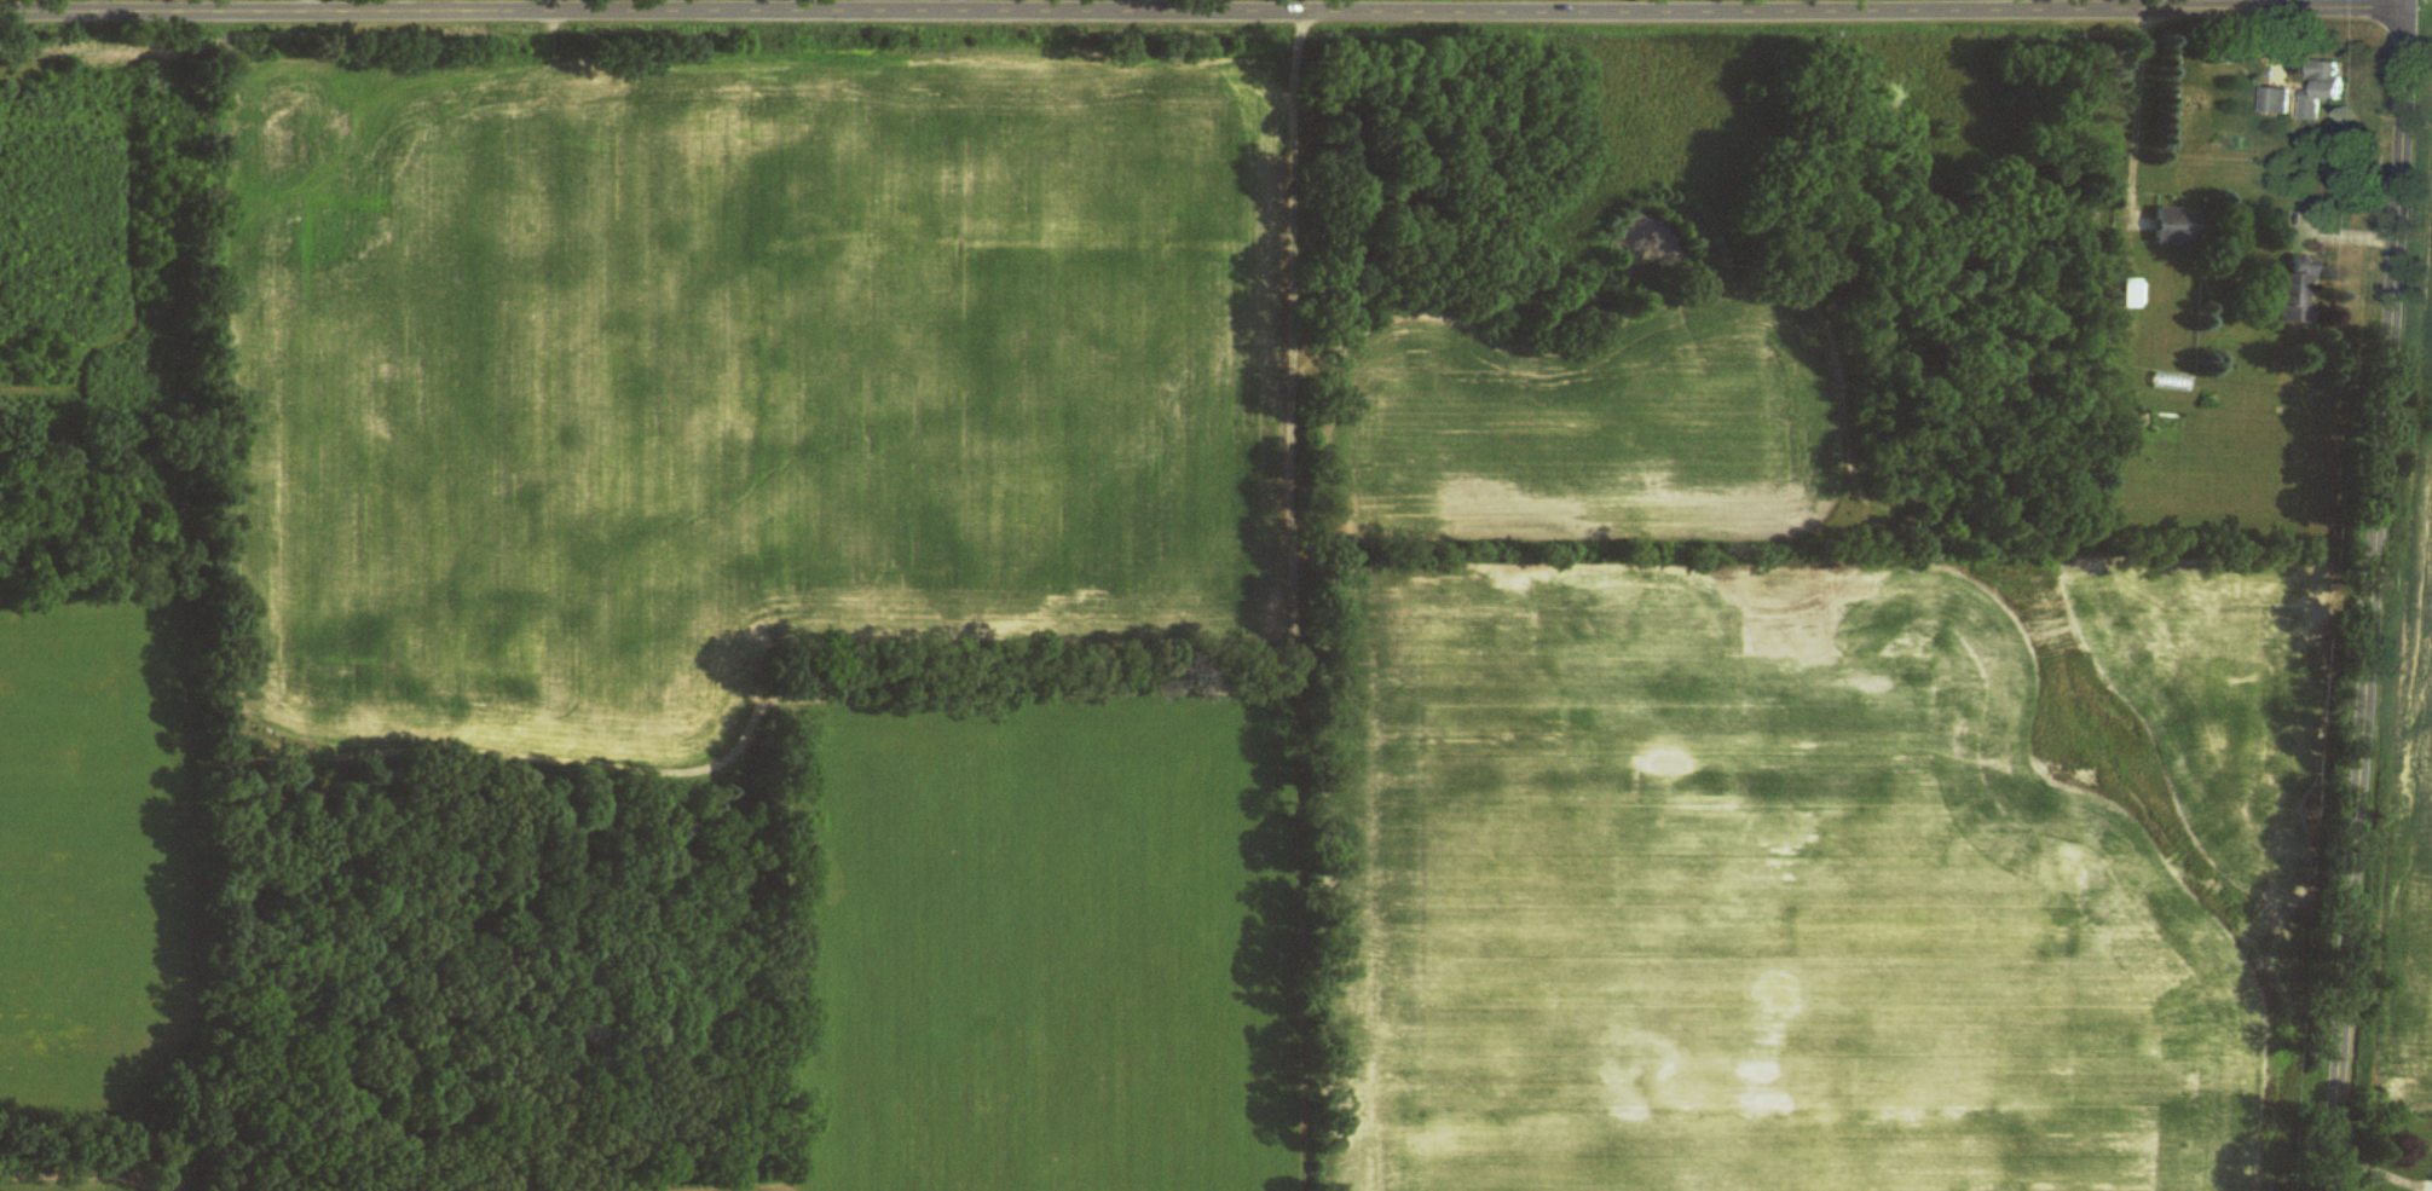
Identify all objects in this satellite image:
road: (957, 7)
road: (1212, 13)
building: (2329, 83)
building: (2280, 103)
building: (2180, 227)
building: (2131, 294)
building: (2295, 294)
road: (2380, 595)

